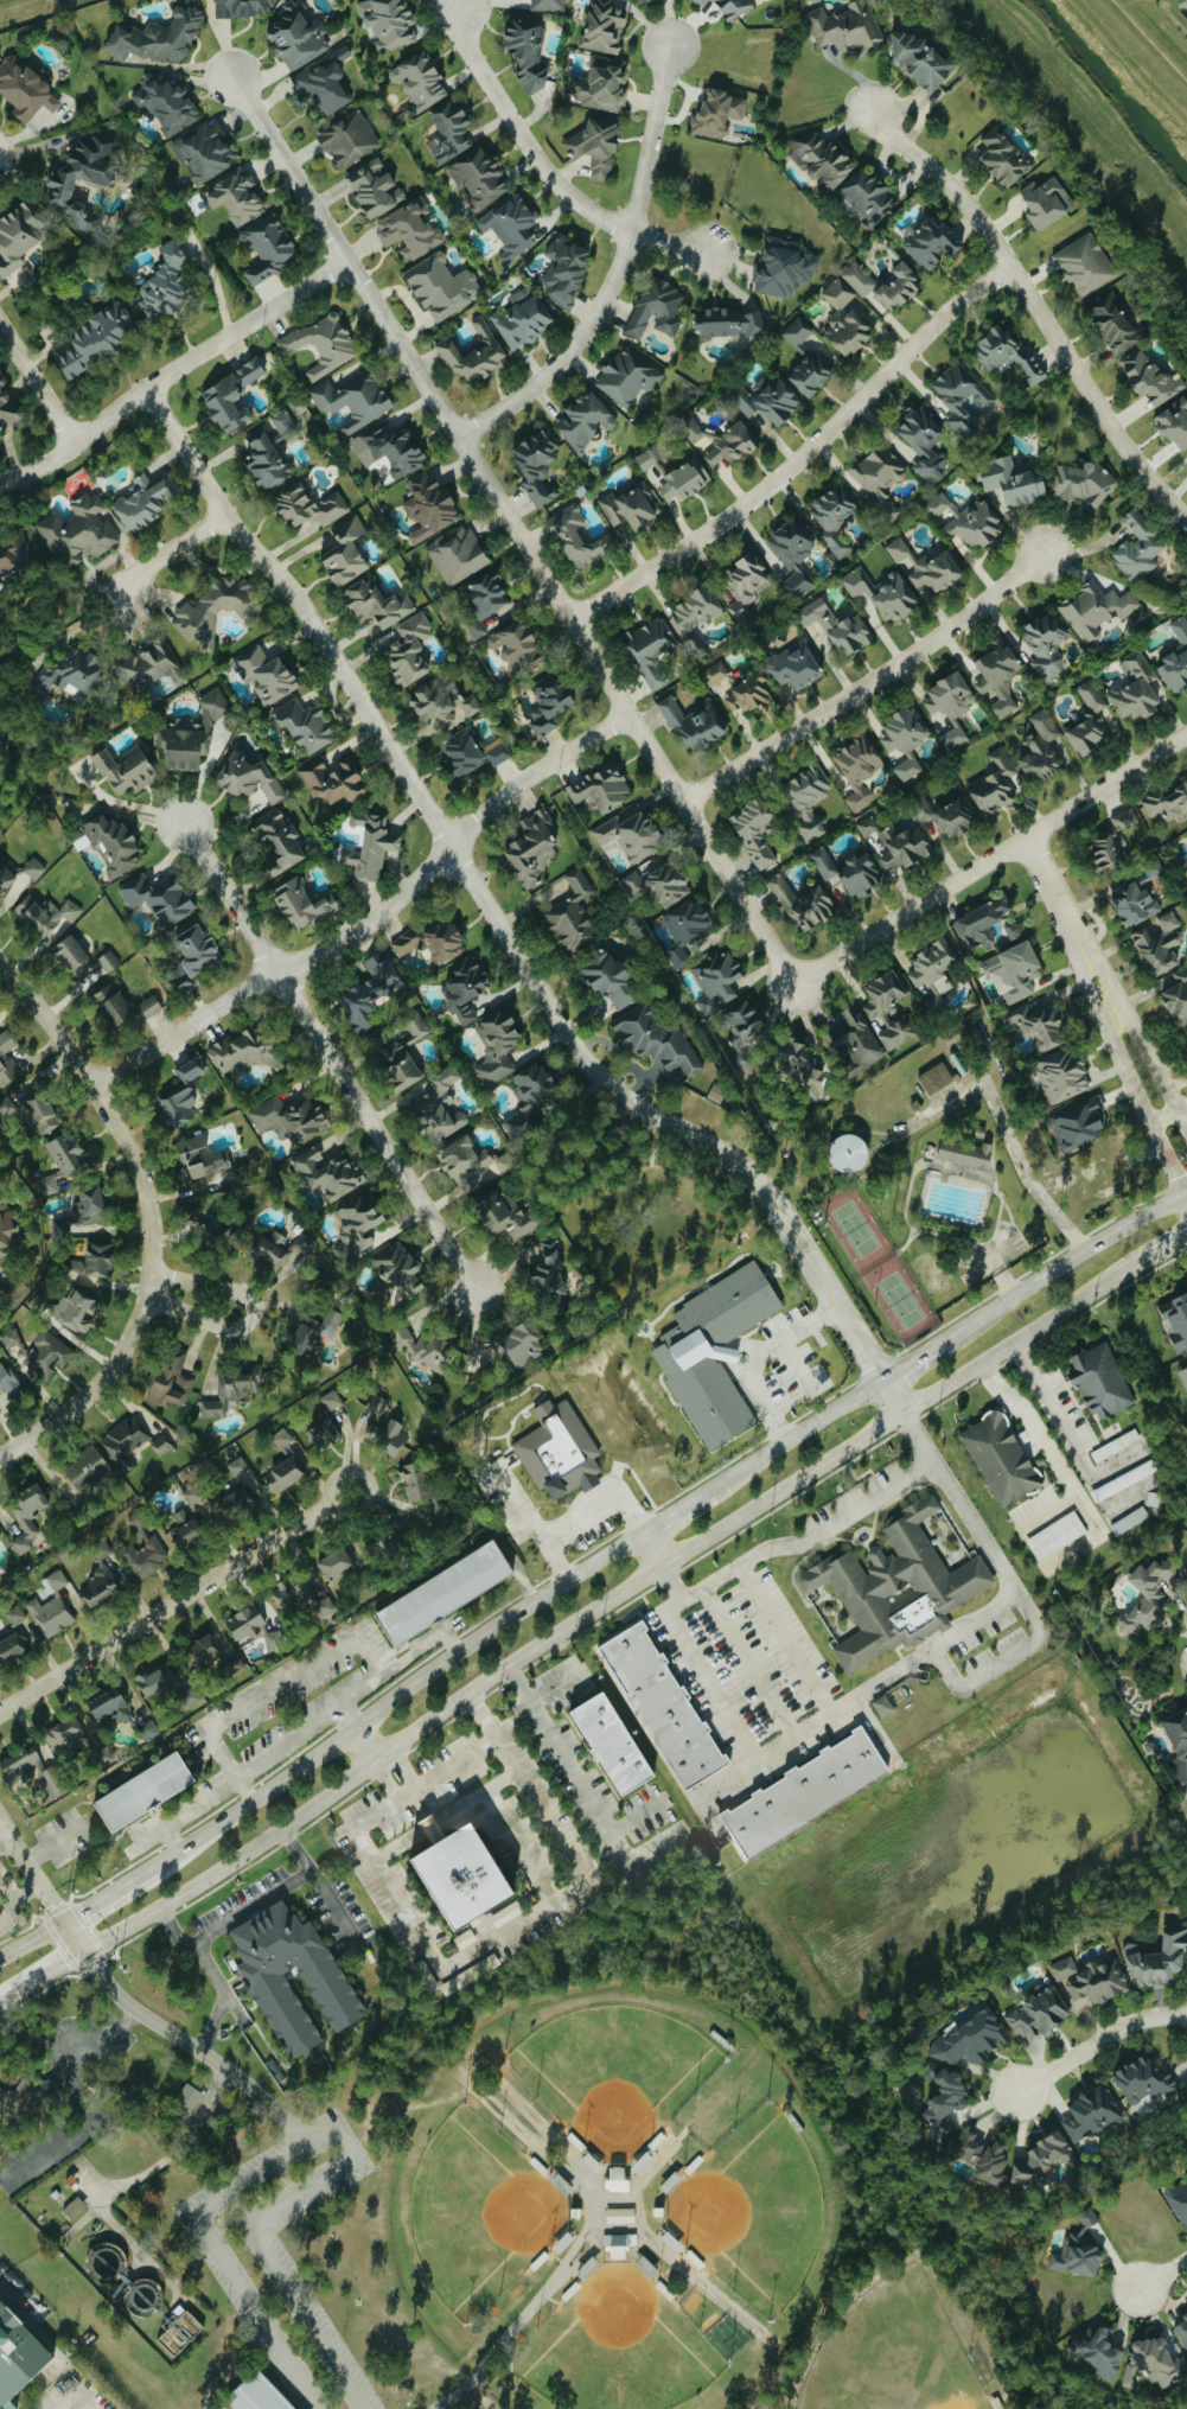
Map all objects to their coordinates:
building: (700, 2)
building: (548, 5)
road: (25, 6)
building: (243, 7)
building: (733, 8)
building: (387, 21)
building: (604, 26)
building: (845, 26)
building: (296, 36)
building: (157, 37)
road: (1149, 42)
building: (527, 53)
building: (919, 59)
building: (419, 81)
building: (323, 82)
building: (600, 84)
building: (24, 88)
building: (166, 103)
building: (716, 114)
road: (1067, 128)
building: (449, 130)
building: (347, 138)
building: (596, 141)
building: (202, 152)
building: (1003, 157)
building: (819, 159)
building: (79, 177)
building: (478, 177)
road: (547, 178)
building: (374, 186)
building: (866, 195)
building: (235, 196)
building: (1045, 200)
building: (510, 225)
building: (409, 228)
building: (18, 234)
building: (931, 242)
building: (267, 247)
building: (1084, 263)
building: (564, 268)
building: (784, 268)
road: (613, 272)
building: (859, 279)
building: (162, 282)
building: (441, 285)
building: (894, 288)
building: (656, 307)
road: (1035, 308)
building: (522, 317)
building: (844, 318)
building: (727, 320)
building: (1113, 323)
building: (797, 331)
building: (94, 338)
building: (323, 343)
building: (473, 353)
building: (1007, 353)
road: (173, 371)
building: (810, 371)
building: (628, 375)
building: (1149, 377)
road: (37, 385)
building: (229, 395)
building: (962, 396)
building: (766, 399)
building: (351, 400)
building: (8, 404)
building: (583, 419)
building: (282, 422)
building: (1174, 422)
building: (720, 440)
building: (921, 440)
building: (388, 448)
road: (799, 455)
building: (645, 459)
building: (264, 460)
building: (536, 463)
building: (876, 474)
building: (683, 479)
building: (1009, 480)
building: (1084, 483)
building: (142, 501)
building: (937, 504)
building: (309, 505)
building: (428, 505)
building: (631, 505)
building: (834, 517)
building: (975, 523)
road: (515, 528)
building: (77, 531)
building: (576, 536)
building: (1137, 546)
road: (166, 550)
building: (344, 552)
building: (14, 554)
building: (455, 554)
building: (792, 554)
building: (925, 566)
building: (746, 585)
building: (881, 592)
building: (483, 603)
building: (377, 604)
building: (694, 608)
building: (1096, 608)
building: (213, 610)
building: (836, 626)
building: (1046, 644)
building: (516, 646)
building: (408, 649)
building: (650, 649)
building: (1175, 658)
building: (148, 665)
building: (793, 665)
building: (69, 673)
building: (716, 673)
building: (264, 674)
building: (997, 675)
road: (867, 682)
building: (1135, 687)
building: (746, 694)
building: (441, 702)
building: (548, 702)
building: (950, 706)
building: (1089, 719)
building: (694, 722)
building: (305, 725)
building: (189, 734)
building: (905, 739)
building: (1040, 747)
building: (470, 752)
building: (125, 770)
building: (857, 770)
building: (248, 778)
building: (332, 780)
building: (994, 783)
building: (600, 789)
building: (806, 798)
building: (1167, 802)
building: (943, 814)
building: (867, 826)
building: (753, 830)
building: (628, 835)
building: (277, 840)
building: (1111, 841)
building: (371, 845)
building: (902, 846)
building: (531, 847)
road: (990, 858)
building: (34, 868)
building: (848, 871)
building: (5, 878)
building: (658, 884)
building: (1135, 896)
building: (157, 898)
building: (300, 901)
building: (802, 903)
building: (45, 913)
building: (572, 914)
road: (371, 916)
building: (1168, 920)
building: (981, 923)
road: (498, 924)
road: (1068, 924)
building: (684, 928)
building: (432, 941)
building: (1156, 950)
building: (71, 955)
building: (191, 956)
building: (108, 961)
building: (932, 971)
building: (1013, 971)
building: (716, 980)
building: (608, 981)
building: (465, 987)
building: (368, 994)
building: (1176, 998)
building: (110, 1005)
building: (147, 1007)
building: (887, 1007)
building: (744, 1024)
building: (1035, 1024)
building: (416, 1025)
building: (1185, 1033)
building: (656, 1039)
building: (854, 1039)
building: (496, 1046)
building: (247, 1051)
road: (328, 1053)
building: (7, 1059)
road: (1154, 1064)
building: (397, 1066)
building: (797, 1066)
building: (189, 1069)
building: (1061, 1075)
building: (934, 1078)
building: (528, 1098)
building: (177, 1104)
road: (1140, 1105)
building: (440, 1107)
road: (107, 1111)
building: (42, 1113)
road: (1163, 1116)
building: (285, 1120)
building: (1078, 1124)
building: (964, 1154)
building: (200, 1158)
building: (62, 1160)
building: (471, 1164)
building: (326, 1173)
road: (1022, 1179)
road: (1186, 1196)
road: (1186, 1199)
building: (90, 1204)
building: (504, 1215)
road: (1134, 1223)
building: (355, 1226)
park: (854, 1226)
building: (206, 1228)
building: (7, 1229)
building: (302, 1239)
building: (270, 1248)
road: (1163, 1250)
building: (92, 1264)
building: (398, 1269)
building: (545, 1273)
building: (0, 1287)
building: (379, 1292)
road: (1011, 1294)
park: (899, 1298)
building: (38, 1302)
building: (76, 1309)
road: (249, 1314)
building: (1176, 1321)
building: (311, 1332)
building: (11, 1339)
building: (517, 1344)
building: (422, 1345)
building: (714, 1352)
building: (46, 1355)
road: (754, 1355)
road: (913, 1357)
building: (1183, 1376)
building: (6, 1378)
building: (171, 1379)
building: (1099, 1379)
road: (94, 1388)
building: (231, 1391)
building: (331, 1400)
building: (377, 1402)
road: (1052, 1407)
road: (1030, 1425)
road: (797, 1432)
building: (321, 1433)
building: (385, 1435)
building: (282, 1439)
building: (125, 1441)
building: (162, 1444)
building: (1116, 1446)
building: (559, 1451)
building: (1000, 1459)
building: (238, 1466)
building: (87, 1470)
building: (283, 1474)
building: (1131, 1479)
building: (414, 1481)
building: (191, 1496)
building: (238, 1500)
building: (440, 1509)
road: (527, 1509)
road: (676, 1510)
building: (27, 1516)
road: (585, 1519)
building: (1129, 1521)
building: (183, 1528)
building: (0, 1535)
building: (1055, 1535)
road: (803, 1542)
building: (393, 1543)
building: (146, 1556)
building: (334, 1564)
building: (98, 1579)
building: (896, 1588)
building: (441, 1593)
building: (1147, 1594)
building: (300, 1595)
road: (607, 1600)
road: (174, 1601)
building: (52, 1606)
building: (15, 1615)
building: (251, 1627)
road: (438, 1636)
building: (11, 1648)
building: (202, 1651)
road: (395, 1663)
building: (232, 1664)
road: (1002, 1664)
road: (296, 1674)
building: (155, 1681)
road: (864, 1685)
road: (396, 1695)
building: (189, 1697)
building: (662, 1706)
building: (882, 1706)
building: (109, 1707)
building: (64, 1735)
road: (489, 1735)
road: (370, 1739)
road: (287, 1740)
building: (608, 1745)
building: (1178, 1745)
building: (101, 1755)
building: (20, 1765)
road: (579, 1778)
building: (141, 1792)
building: (803, 1792)
road: (191, 1811)
road: (56, 1841)
road: (6, 1843)
road: (141, 1873)
building: (455, 1879)
road: (40, 1887)
road: (7, 1888)
road: (19, 1897)
road: (95, 1901)
road: (332, 1905)
road: (251, 1906)
building: (505, 1914)
road: (493, 1936)
road: (31, 1938)
building: (1156, 1961)
road: (42, 1976)
building: (1089, 1981)
building: (266, 1982)
road: (223, 1995)
building: (1036, 2015)
road: (173, 2034)
road: (66, 2040)
road: (1097, 2040)
park: (614, 2073)
building: (1141, 2082)
building: (21, 2097)
building: (187, 2098)
building: (1090, 2114)
road: (288, 2123)
road: (78, 2126)
road: (324, 2131)
building: (979, 2155)
building: (1040, 2161)
building: (615, 2178)
building: (1178, 2199)
building: (74, 2206)
park: (564, 2206)
park: (753, 2210)
park: (478, 2212)
building: (615, 2249)
building: (1078, 2250)
parking lot: (283, 2252)
road: (1163, 2277)
parking lot: (20, 2298)
road: (17, 2299)
building: (180, 2328)
building: (1181, 2328)
park: (617, 2347)
building: (17, 2352)
building: (1096, 2353)
park: (893, 2354)
building: (1154, 2362)
road: (77, 2390)
building: (255, 2394)
parking lot: (76, 2397)

